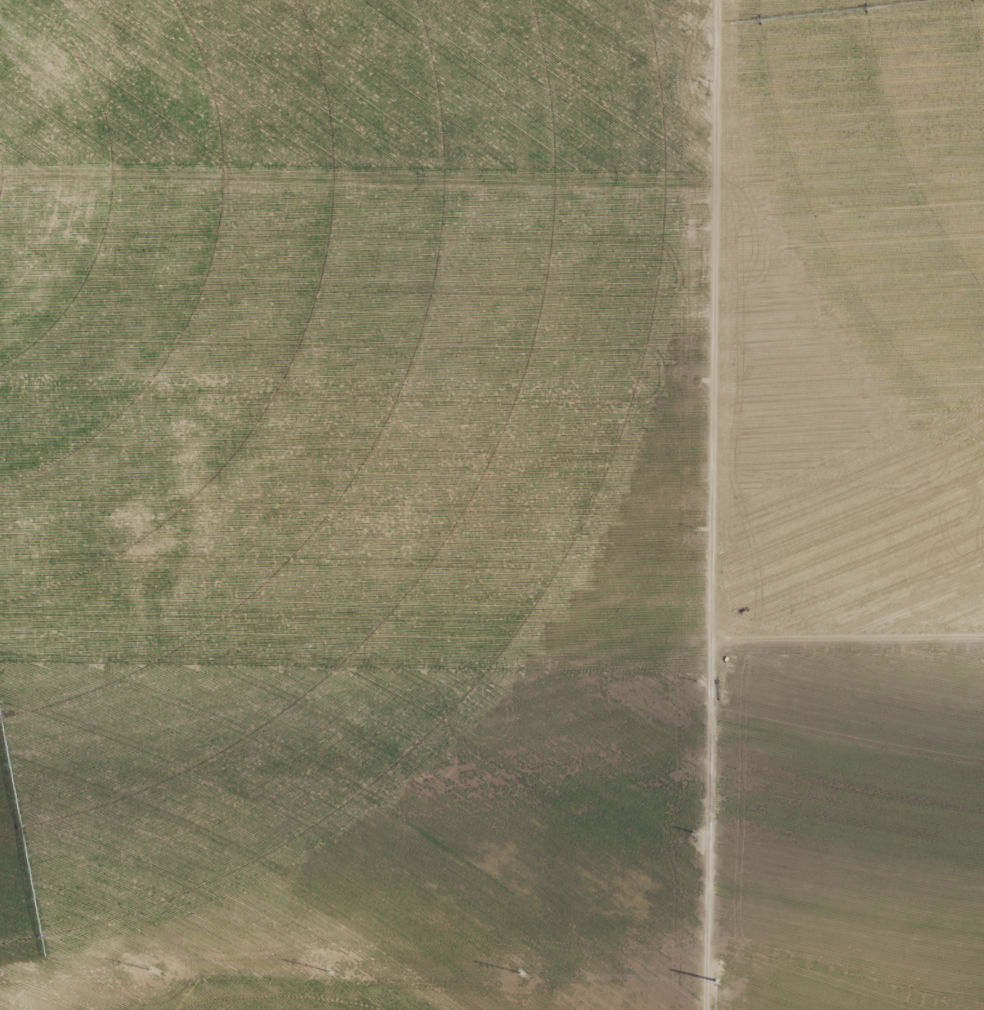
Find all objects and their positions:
road: (718, 505)

